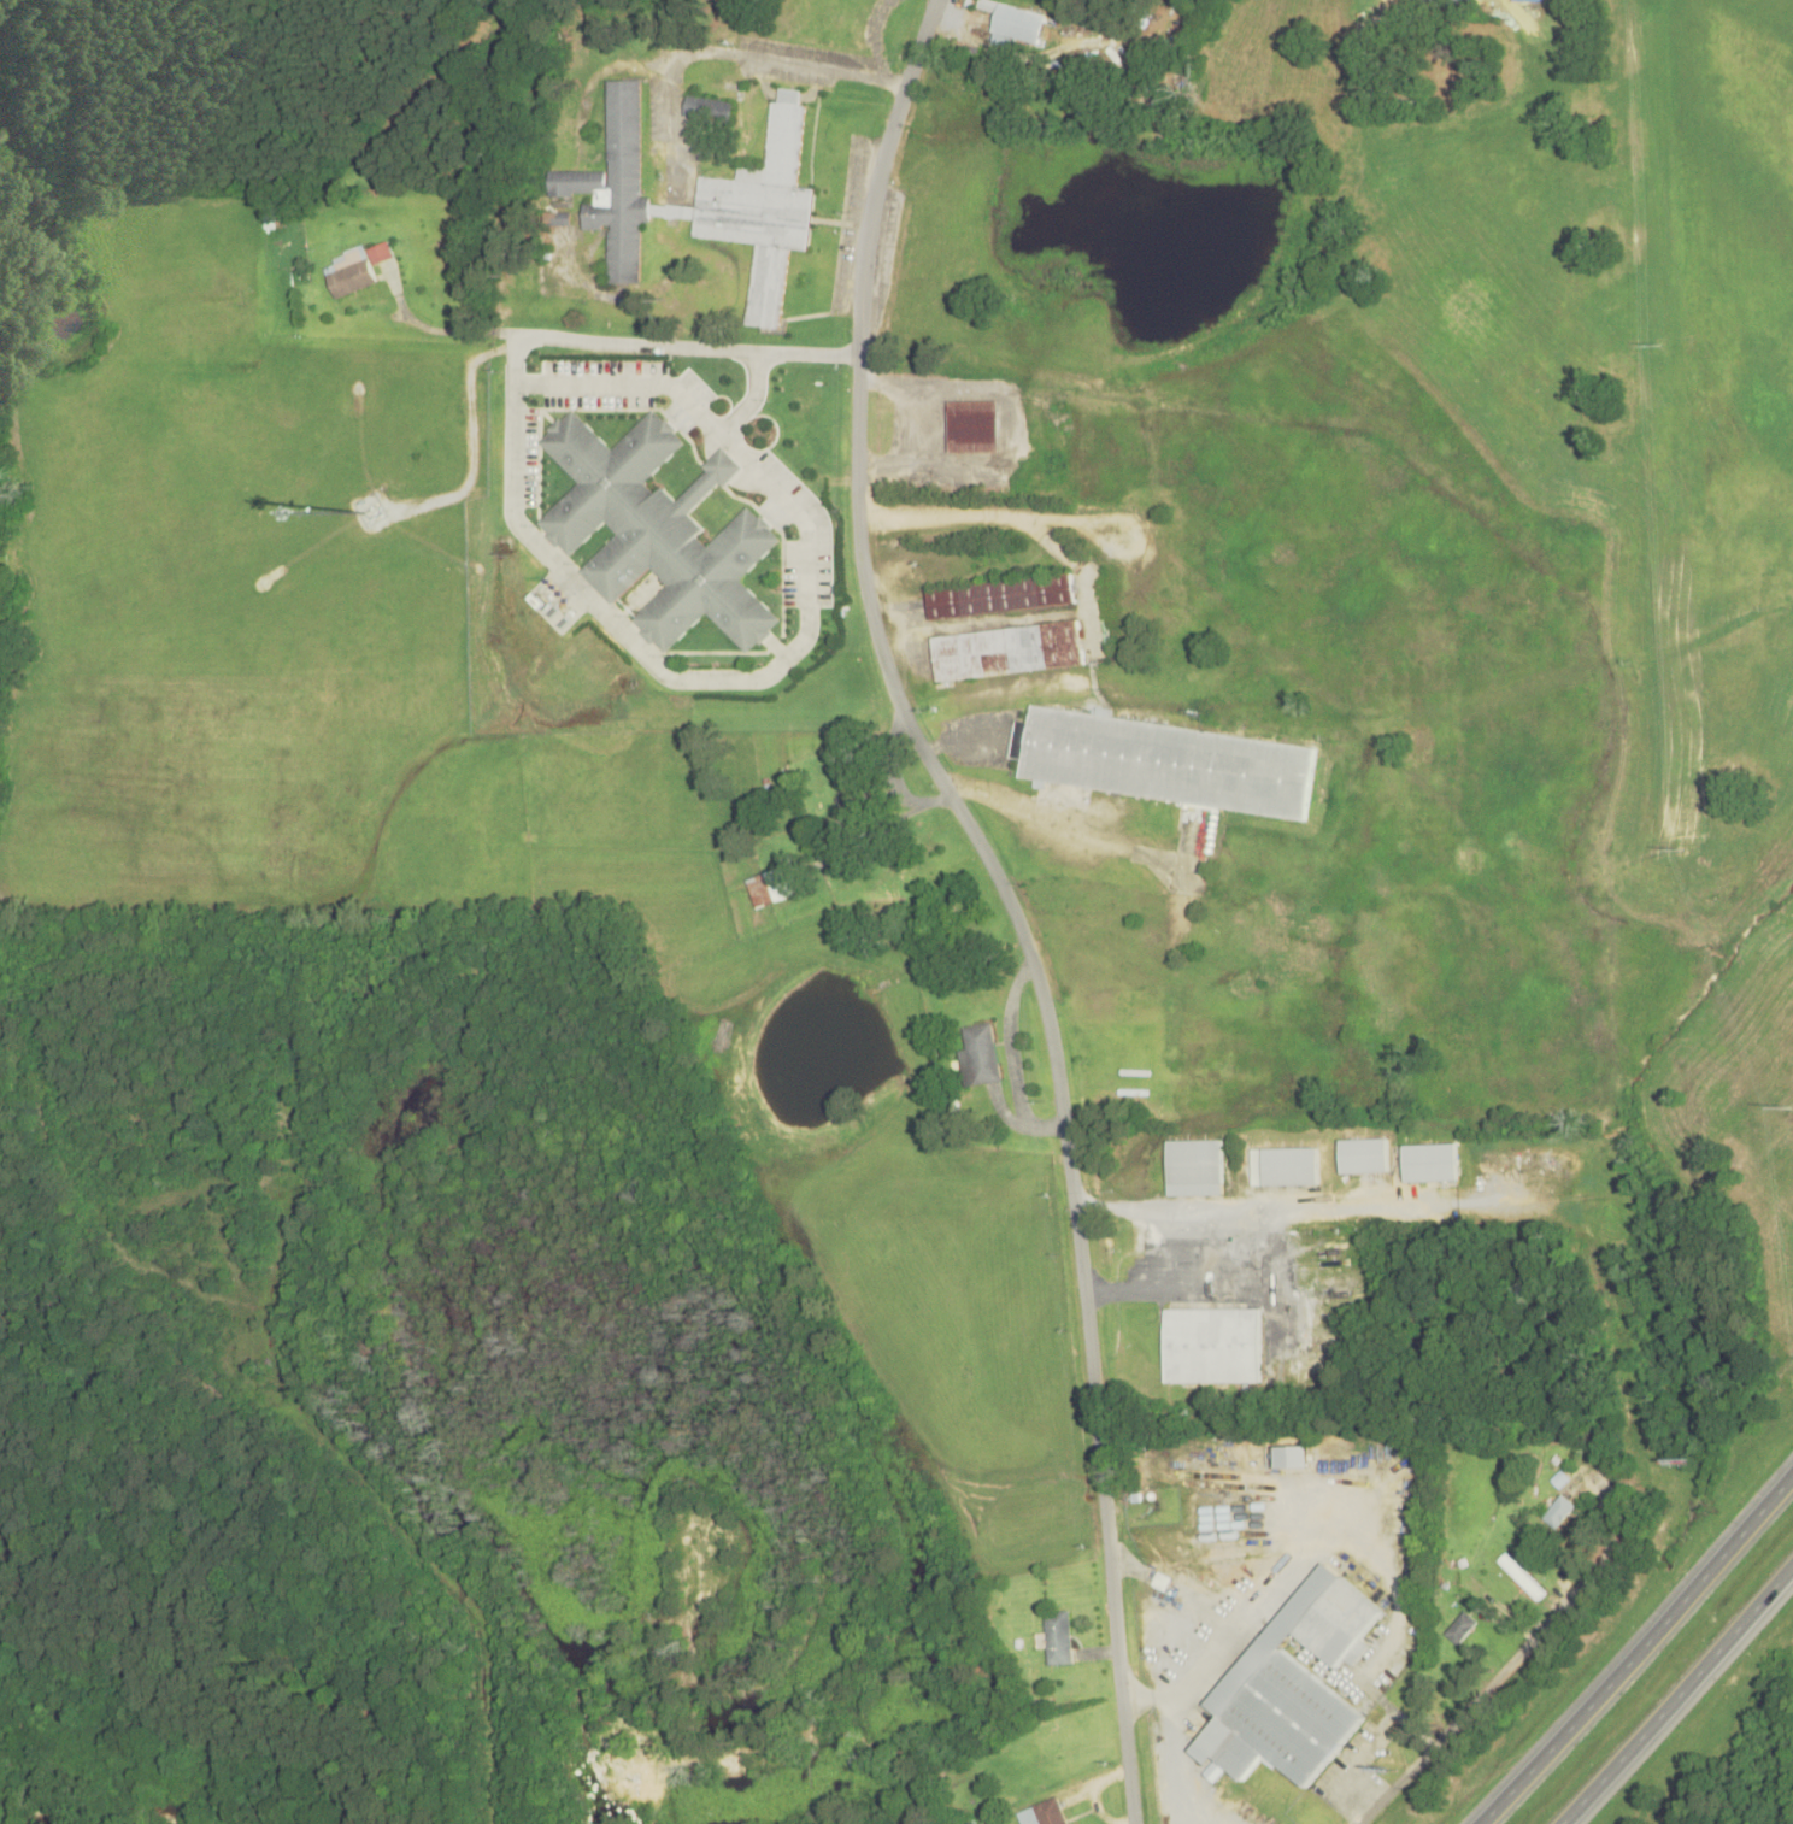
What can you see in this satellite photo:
building: (1447, 1)
building: (1015, 23)
building: (705, 105)
building: (613, 181)
building: (759, 208)
building: (470, 230)
building: (378, 248)
building: (347, 254)
building: (352, 275)
road: (439, 324)
road: (689, 343)
power tower: (1646, 345)
parking lot: (599, 378)
road: (666, 386)
parking lot: (686, 396)
building: (971, 423)
parking lot: (525, 453)
building: (723, 463)
building: (656, 529)
parking lot: (798, 530)
building: (1000, 593)
building: (1006, 647)
road: (711, 678)
building: (1163, 758)
power tower: (1668, 848)
building: (771, 887)
road: (1006, 895)
building: (977, 1052)
road: (1010, 1055)
power tower: (1775, 1106)
road: (1004, 1111)
building: (1360, 1152)
building: (1428, 1159)
building: (1282, 1163)
building: (1193, 1164)
building: (1211, 1342)
building: (1559, 1511)
road: (1133, 1570)
building: (1522, 1576)
road: (1163, 1582)
building: (1460, 1628)
building: (1057, 1637)
road: (1638, 1651)
road: (1209, 1661)
building: (1289, 1683)
road: (1482, 1689)
road: (1676, 1693)
river: (23, 1807)
river: (158, 1808)
building: (1047, 1810)
building: (1025, 1814)

